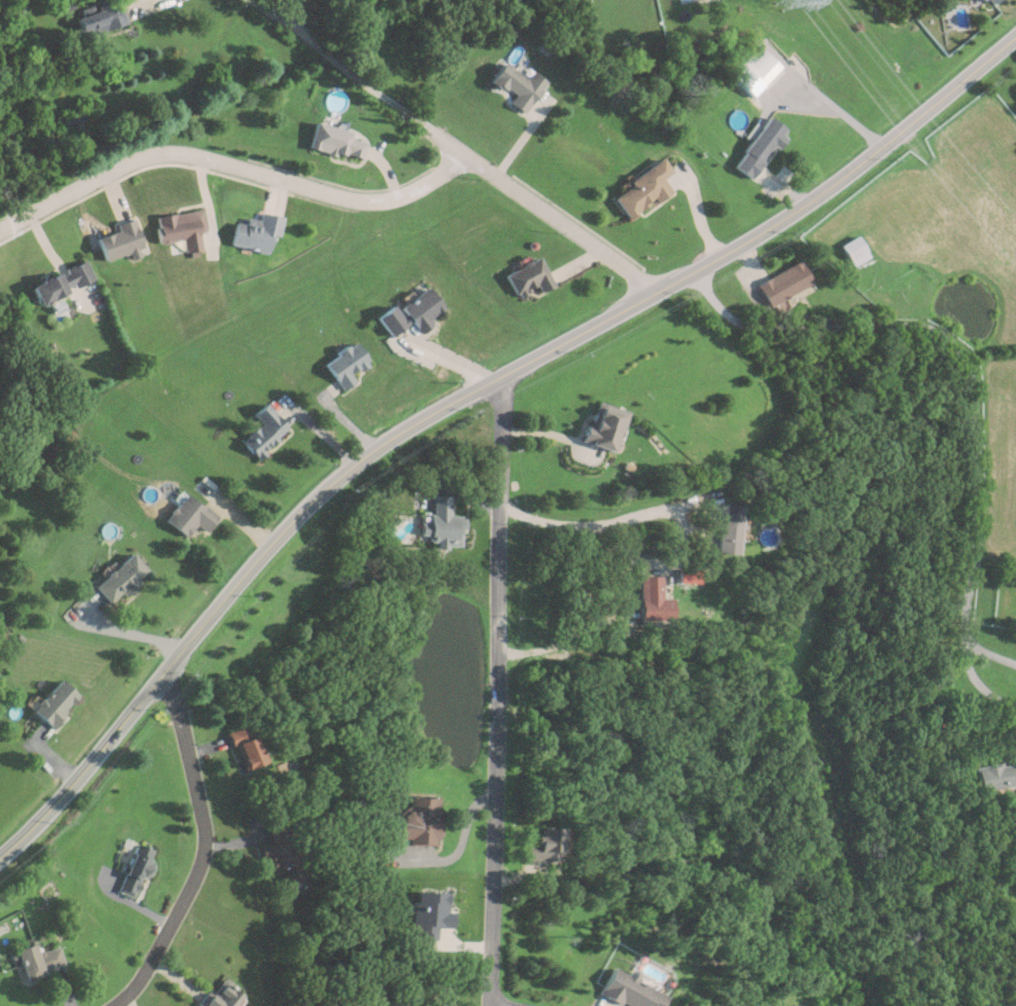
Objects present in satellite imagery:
building: (985, 2)
building: (103, 17)
building: (761, 65)
building: (518, 85)
road: (838, 111)
building: (334, 140)
road: (454, 144)
building: (758, 146)
road: (232, 170)
building: (642, 190)
building: (180, 228)
building: (256, 231)
building: (121, 241)
building: (852, 250)
building: (525, 275)
building: (61, 281)
building: (780, 282)
building: (408, 312)
building: (343, 364)
road: (977, 386)
road: (464, 393)
building: (600, 426)
building: (261, 431)
building: (185, 515)
building: (439, 522)
road: (589, 526)
building: (726, 527)
building: (116, 578)
building: (651, 599)
road: (122, 631)
road: (557, 643)
road: (992, 652)
road: (494, 689)
building: (51, 703)
building: (242, 746)
building: (993, 775)
building: (415, 820)
building: (540, 845)
road: (205, 849)
building: (278, 860)
building: (132, 869)
building: (37, 960)
building: (624, 990)
building: (217, 996)
road: (498, 1004)

